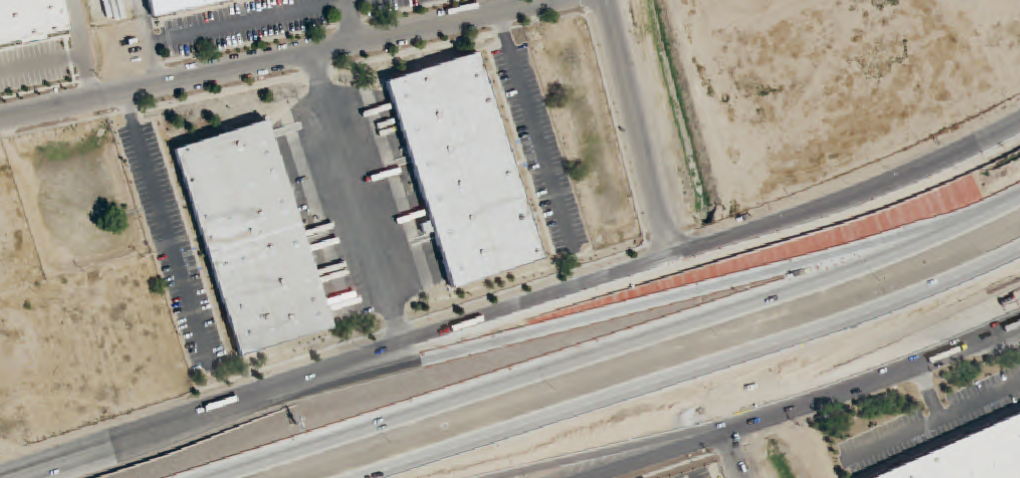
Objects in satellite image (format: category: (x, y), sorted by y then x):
road: (549, 0)
building: (174, 5)
road: (143, 21)
road: (348, 22)
road: (224, 26)
road: (77, 27)
road: (277, 60)
road: (41, 62)
road: (87, 77)
road: (642, 128)
road: (535, 133)
road: (943, 162)
building: (462, 169)
road: (357, 201)
road: (166, 231)
building: (251, 238)
road: (563, 335)
road: (439, 336)
road: (621, 347)
road: (702, 373)
road: (874, 381)
road: (929, 393)
road: (589, 424)
road: (931, 424)
road: (650, 454)
road: (733, 455)
building: (970, 456)
road: (691, 475)
road: (700, 475)

